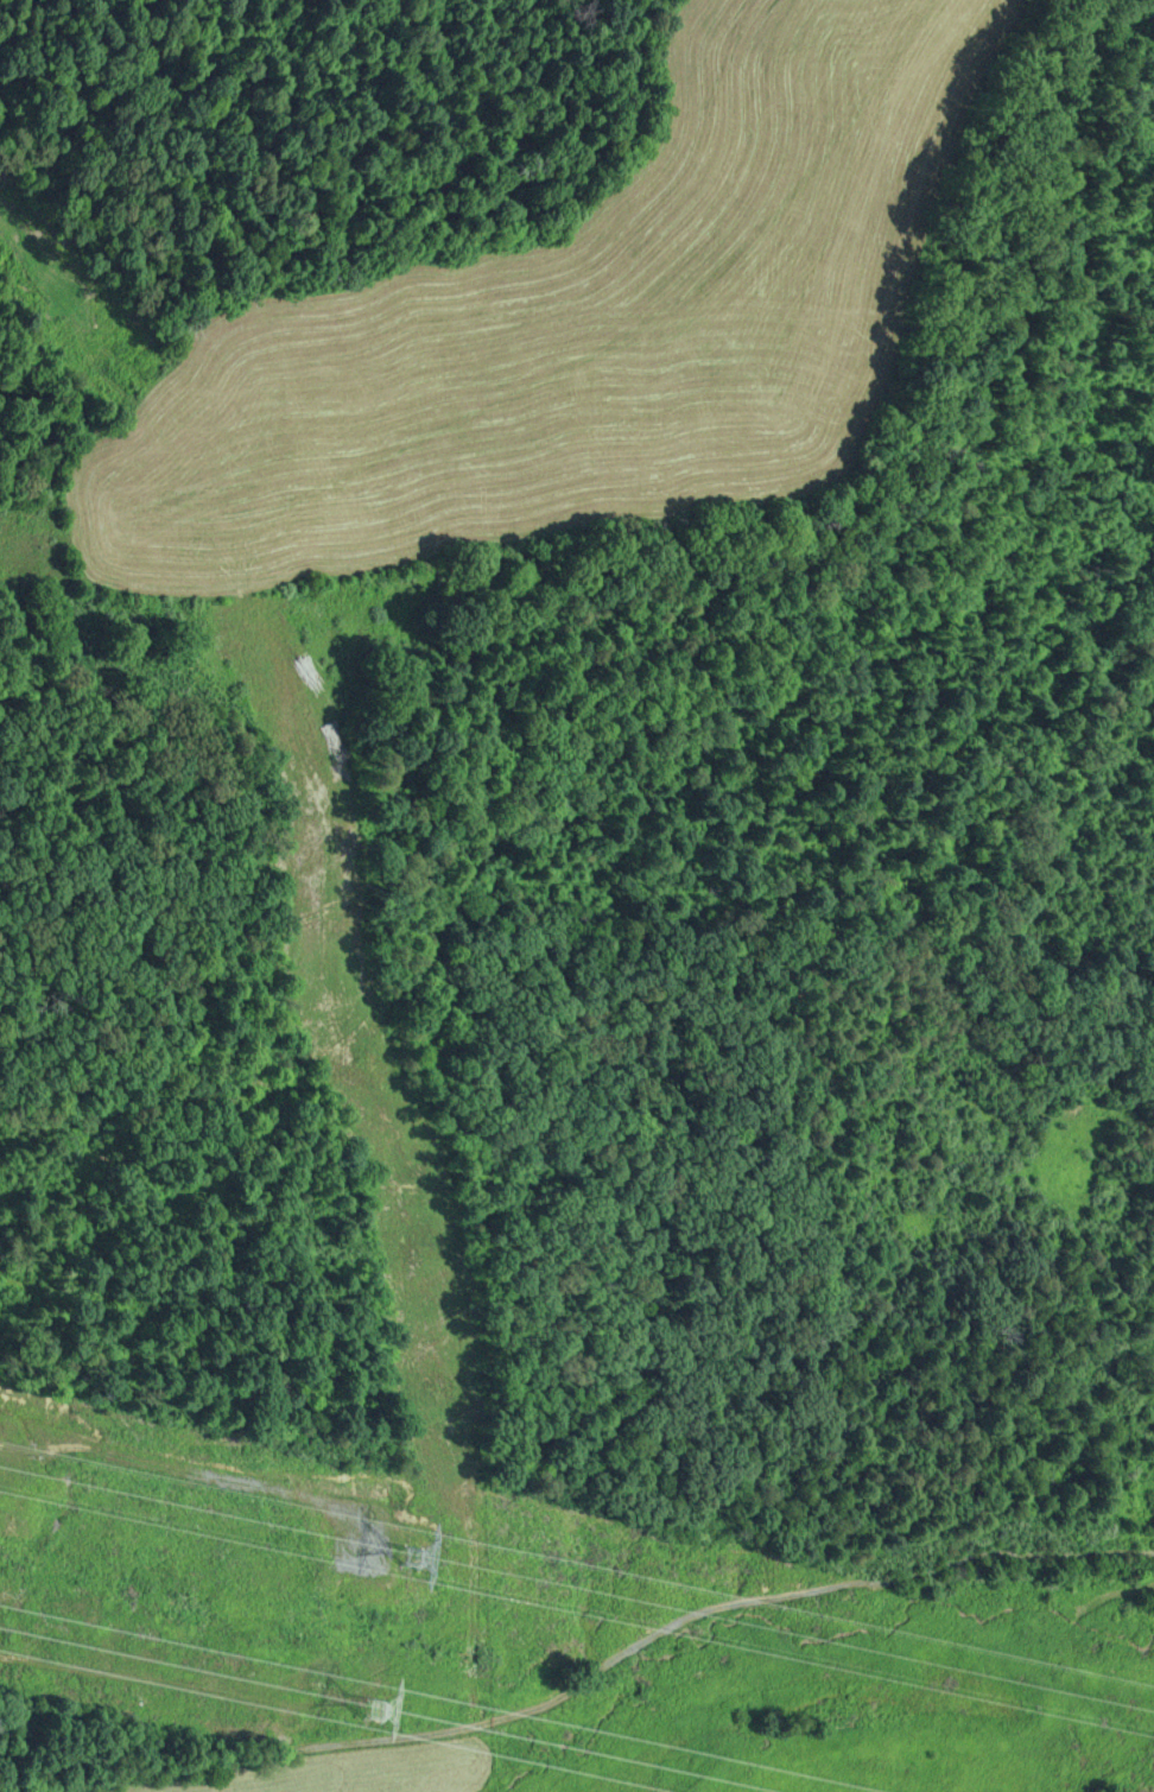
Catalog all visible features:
power tower: (413, 1559)
power tower: (382, 1715)
road: (218, 1752)

